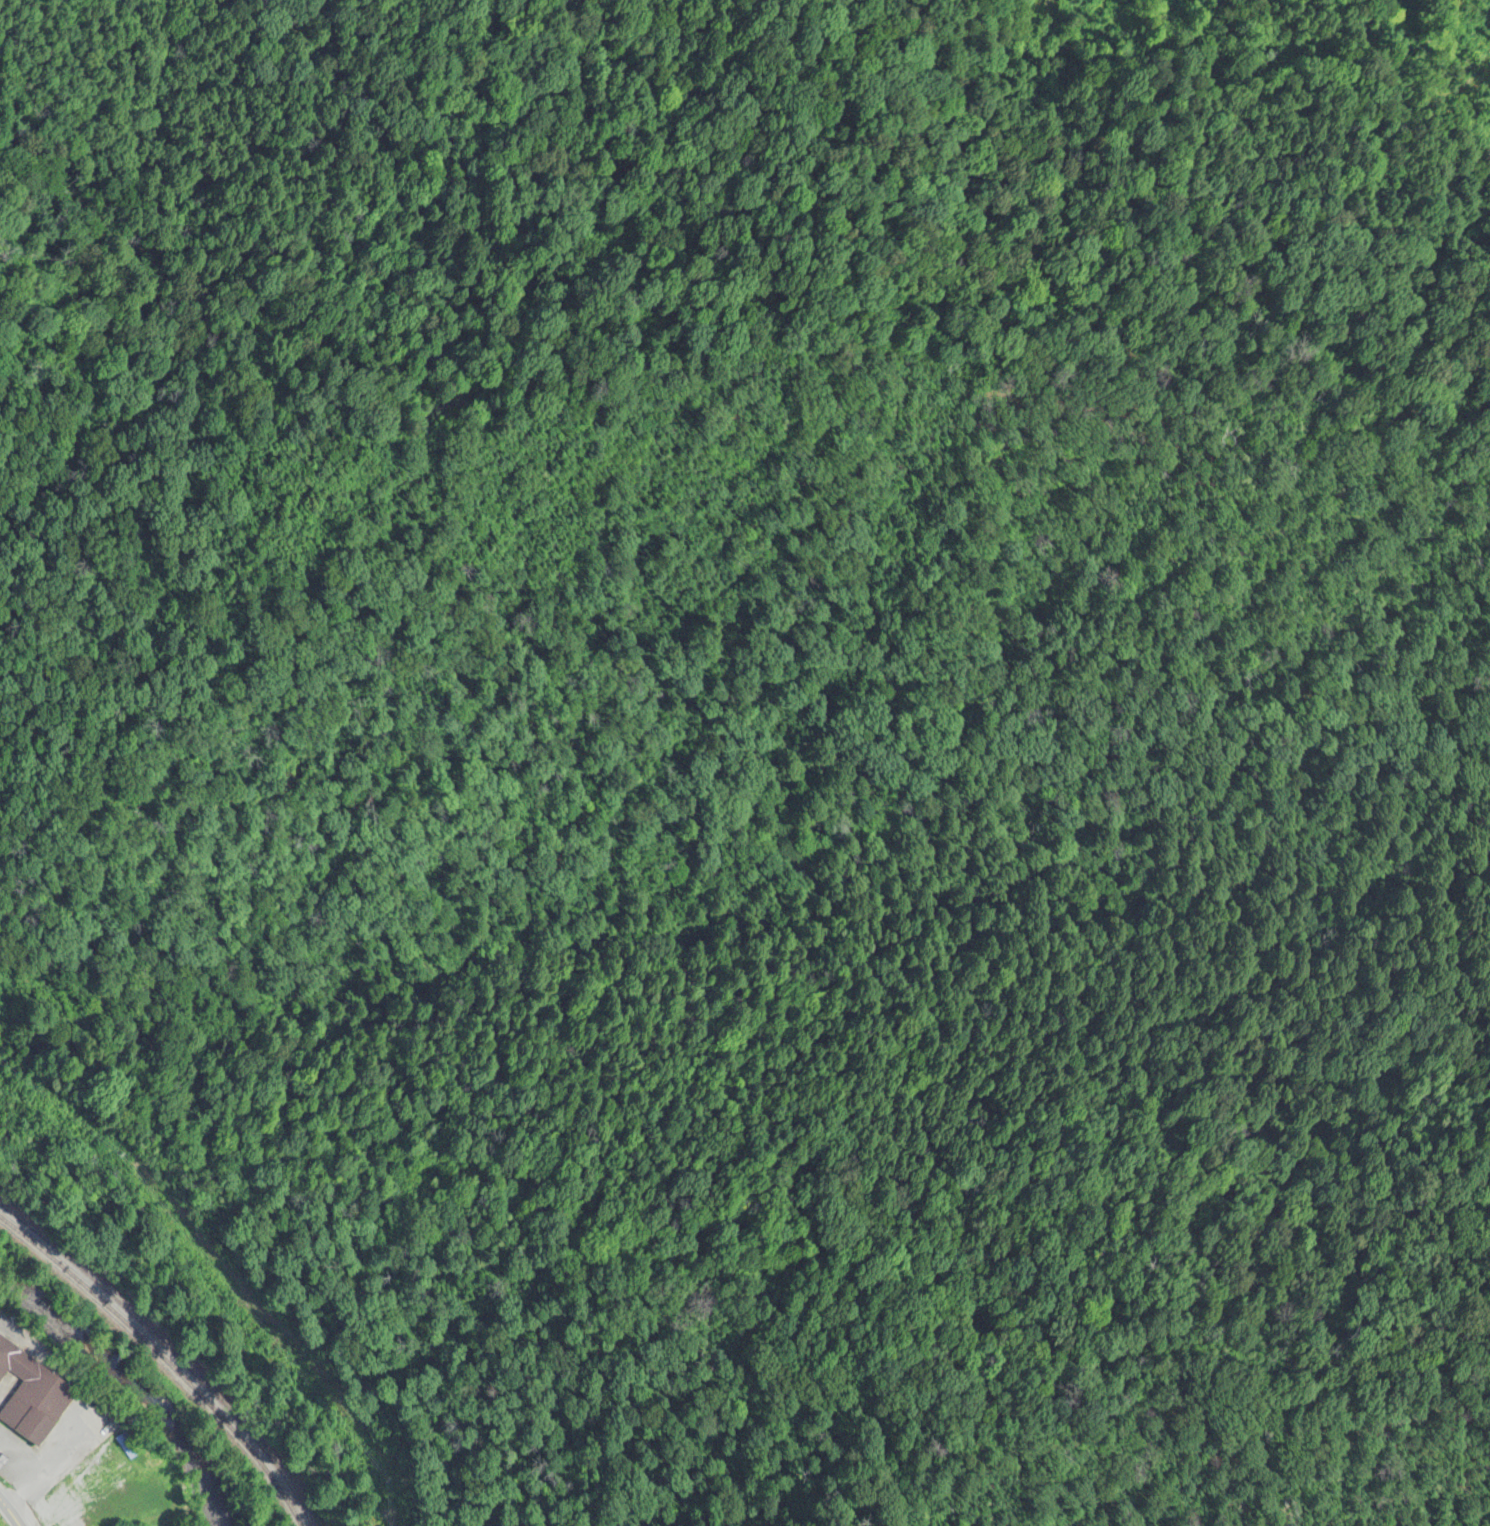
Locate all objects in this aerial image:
road: (21, 1340)
railway: (166, 1356)
river: (130, 1380)
building: (32, 1396)
park: (98, 1421)
road: (21, 1461)
road: (43, 1472)
road: (11, 1511)
road: (46, 1513)

